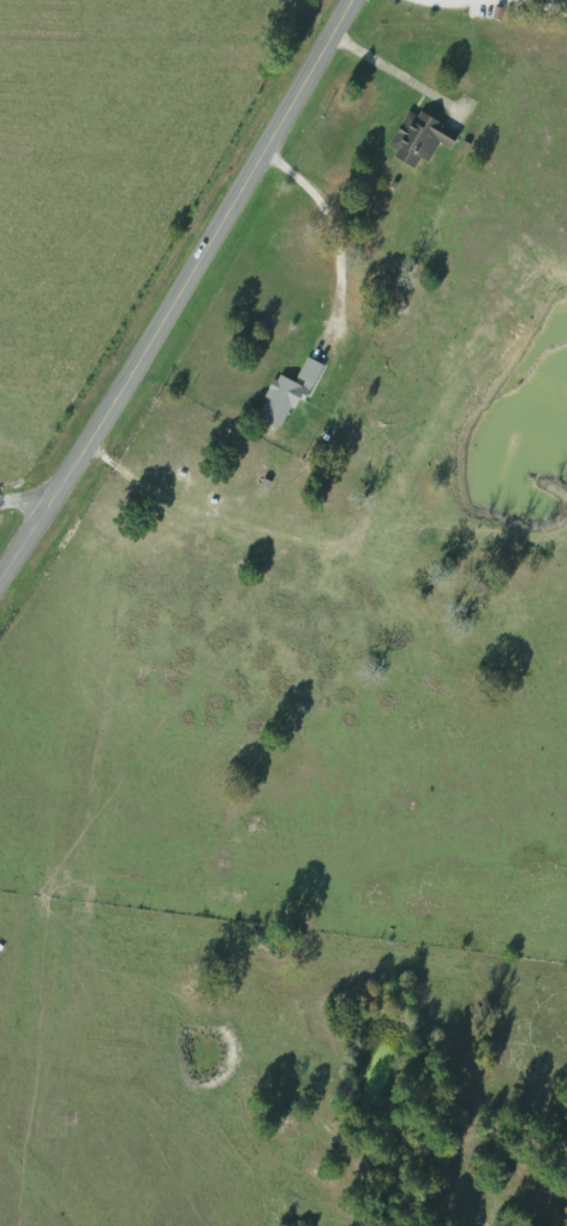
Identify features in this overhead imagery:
building: (413, 138)
road: (178, 286)
building: (279, 398)
road: (19, 501)

